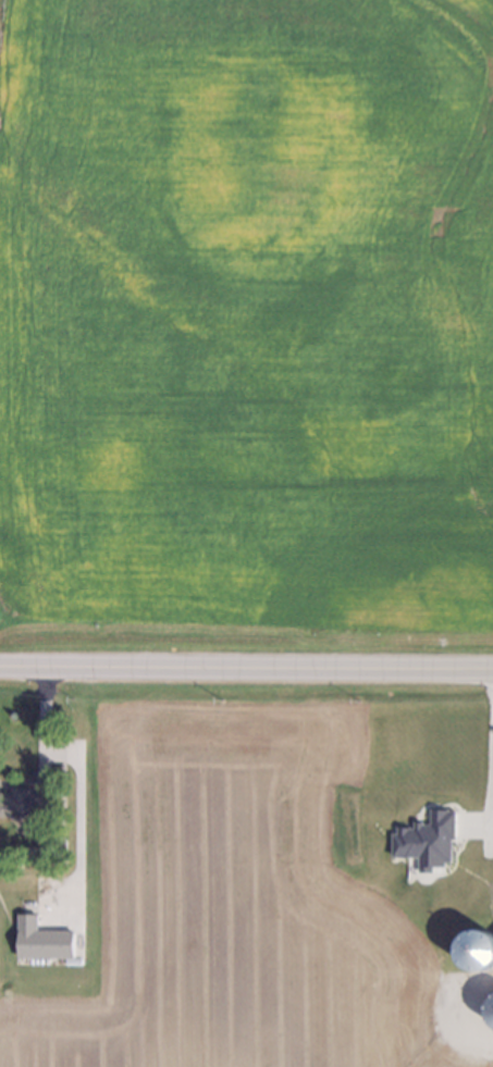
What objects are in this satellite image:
road: (246, 667)
road: (40, 721)
road: (488, 746)
building: (21, 804)
road: (76, 814)
building: (424, 840)
building: (40, 938)
building: (474, 951)
building: (490, 1008)

